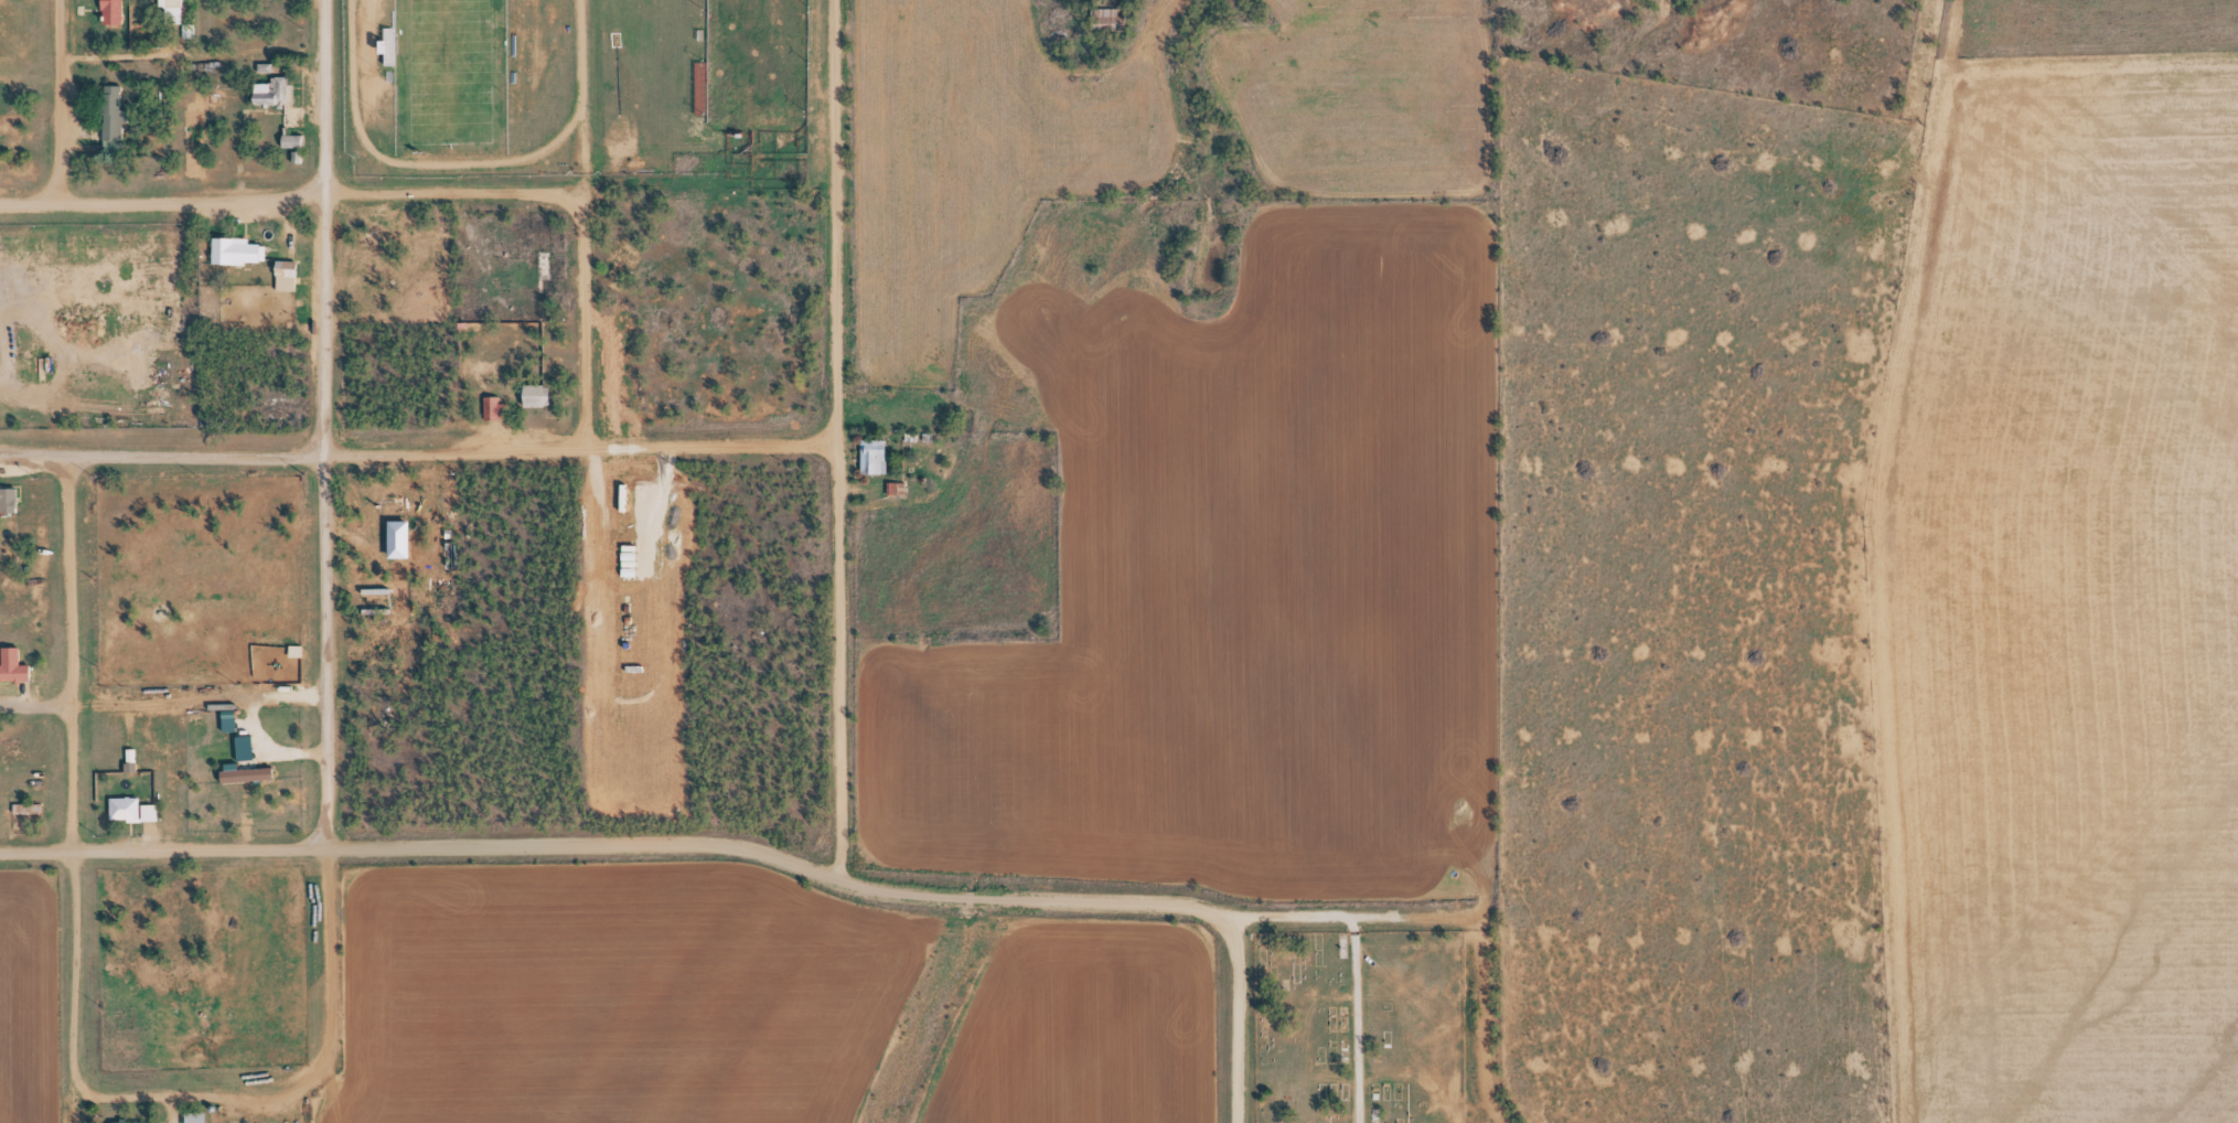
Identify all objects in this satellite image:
building: (117, 9)
building: (176, 10)
building: (165, 12)
road: (188, 55)
park: (753, 64)
park: (447, 71)
building: (277, 92)
road: (53, 101)
building: (118, 117)
building: (298, 139)
road: (288, 200)
building: (379, 238)
building: (409, 238)
building: (399, 242)
building: (238, 248)
building: (538, 259)
building: (290, 275)
road: (579, 322)
building: (542, 393)
building: (528, 395)
building: (499, 404)
building: (272, 408)
road: (317, 424)
road: (419, 451)
building: (877, 452)
building: (899, 485)
building: (10, 496)
building: (269, 504)
building: (386, 518)
road: (66, 653)
building: (18, 662)
road: (33, 707)
road: (842, 739)
building: (253, 771)
building: (31, 806)
building: (128, 808)
building: (153, 810)
road: (578, 845)
road: (195, 849)
road: (33, 852)
road: (1351, 950)
road: (68, 984)
park: (1353, 1027)
road: (317, 1067)
building: (202, 1115)
building: (141, 1122)

